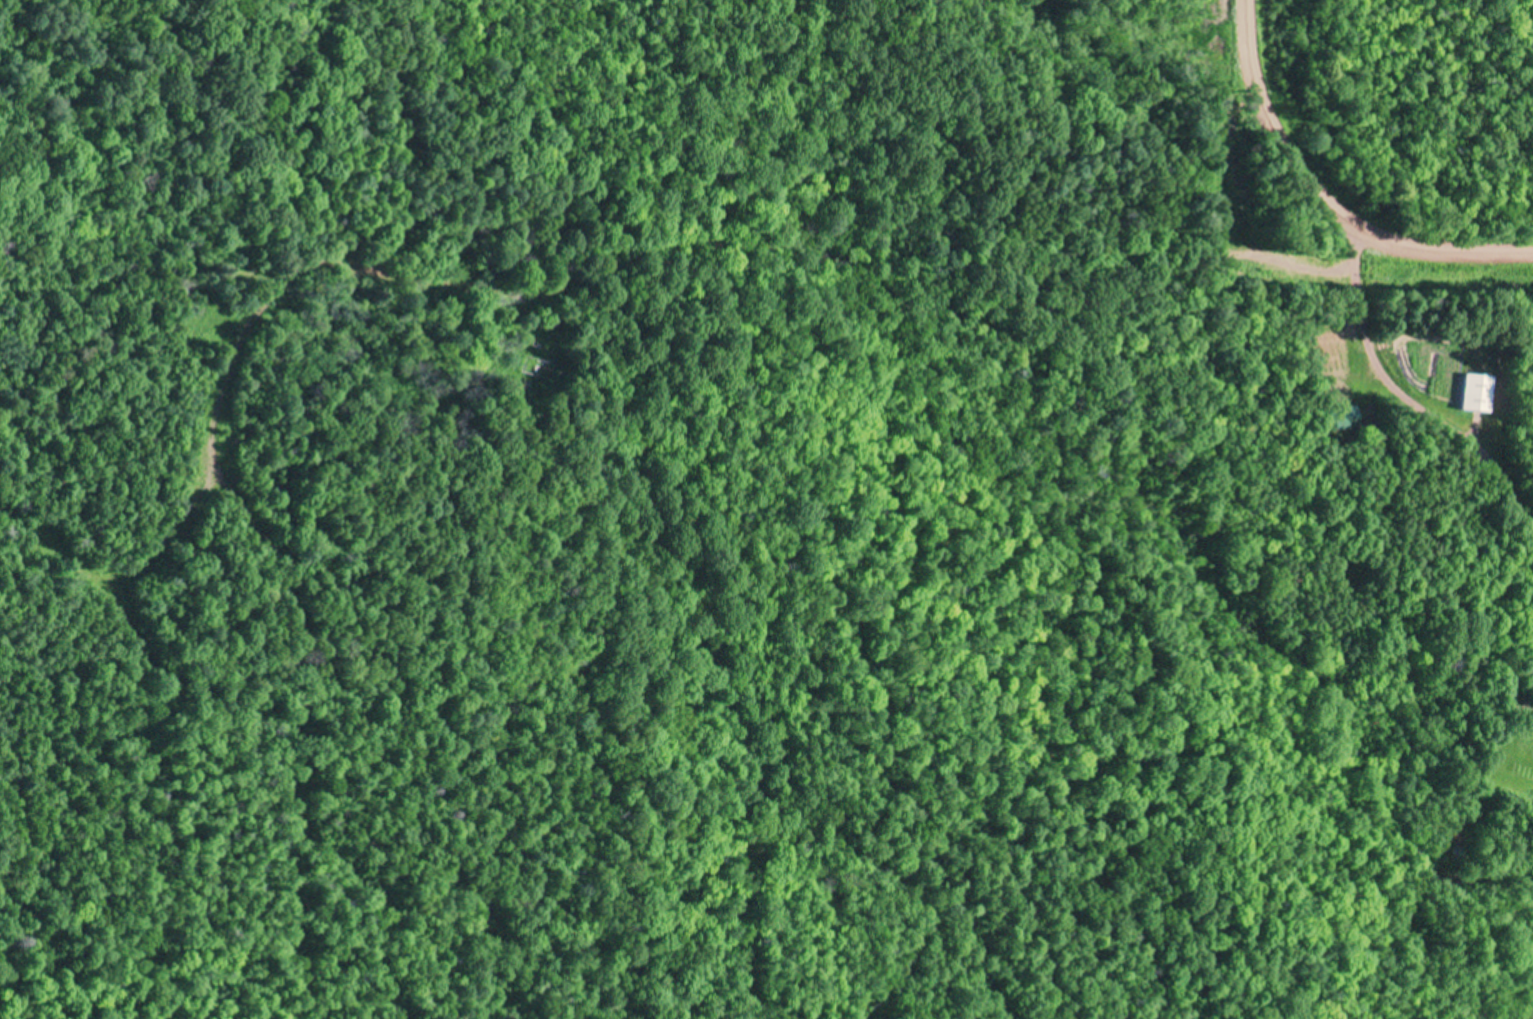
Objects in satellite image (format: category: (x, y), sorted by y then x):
road: (1319, 204)
building: (1472, 393)
road: (1408, 405)
building: (1340, 417)
building: (1531, 724)

